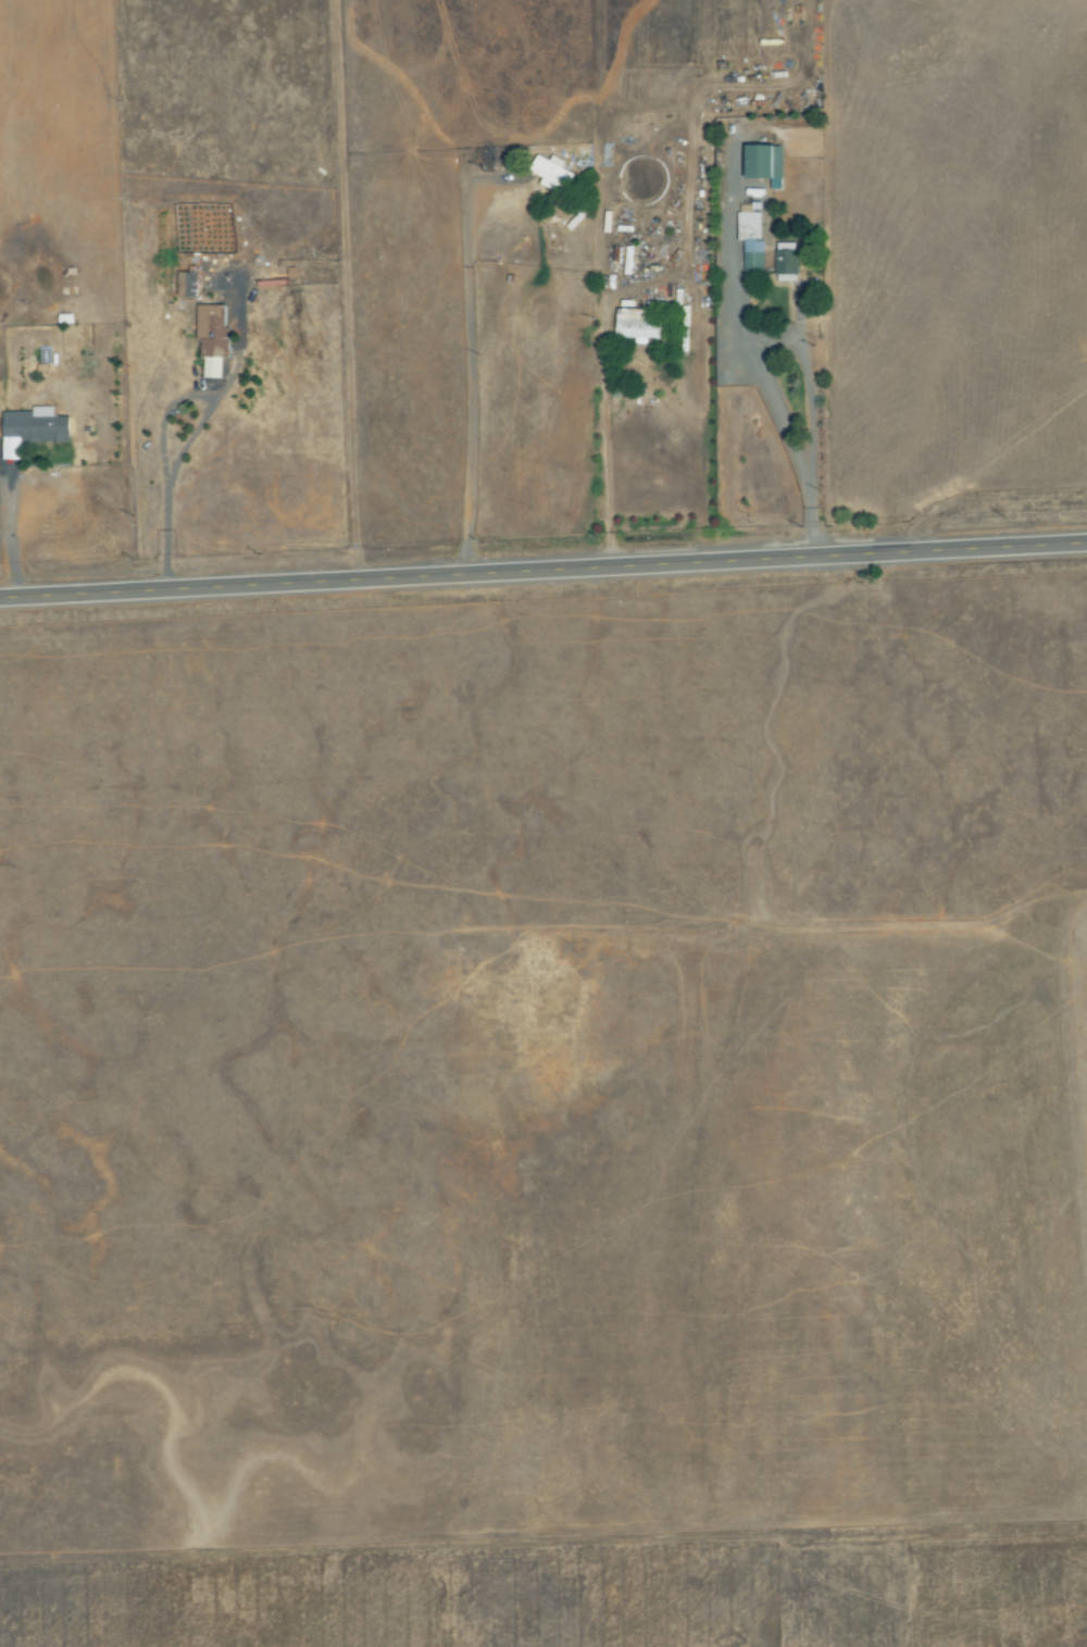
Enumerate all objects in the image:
building: (766, 164)
building: (553, 174)
building: (751, 238)
building: (787, 262)
building: (188, 283)
building: (641, 323)
building: (214, 337)
road: (754, 354)
road: (468, 366)
road: (161, 426)
building: (37, 427)
road: (543, 573)

